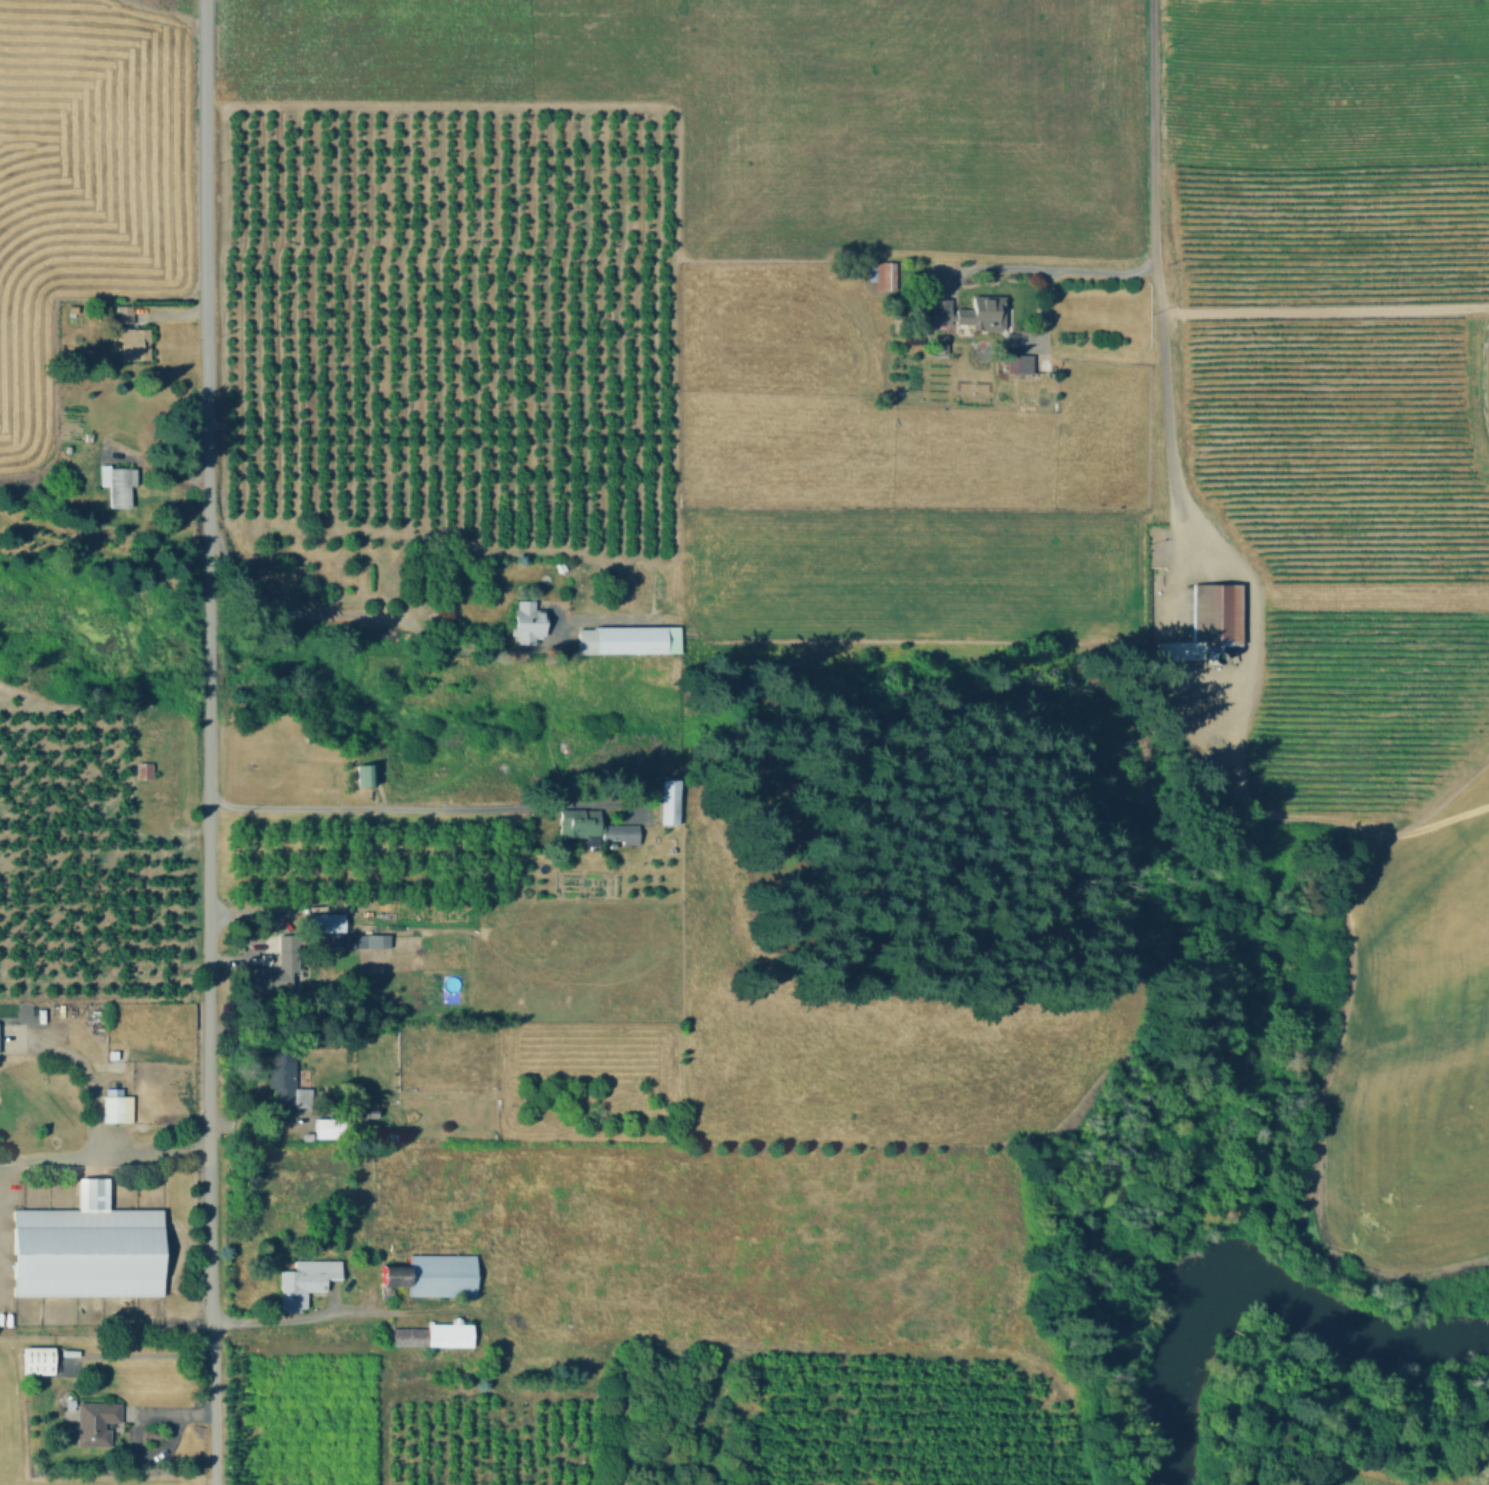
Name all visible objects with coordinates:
road: (1151, 126)
crop: (82, 183)
road: (1039, 265)
building: (886, 276)
road: (1323, 306)
building: (966, 309)
building: (125, 313)
building: (941, 343)
building: (136, 344)
building: (1019, 364)
road: (1166, 403)
crop: (1097, 404)
building: (117, 484)
building: (579, 585)
building: (578, 613)
building: (1214, 616)
building: (528, 622)
road: (402, 623)
building: (638, 639)
building: (585, 643)
road: (208, 661)
building: (366, 775)
building: (669, 801)
road: (420, 810)
building: (593, 828)
building: (326, 922)
building: (342, 941)
building: (278, 968)
building: (111, 1058)
building: (286, 1079)
building: (366, 1109)
building: (116, 1113)
road: (92, 1114)
building: (330, 1128)
road: (151, 1151)
building: (86, 1252)
building: (434, 1276)
building: (306, 1282)
road: (345, 1313)
river: (1362, 1332)
building: (435, 1334)
road: (2, 1340)
river: (1189, 1364)
building: (38, 1365)
road: (146, 1366)
road: (213, 1403)
building: (94, 1426)
crop: (1469, 1474)

